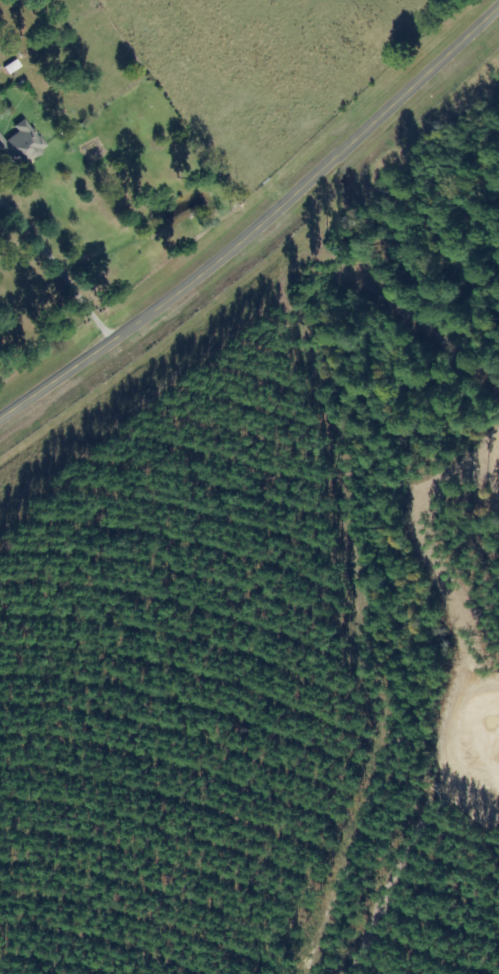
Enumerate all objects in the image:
building: (22, 145)
road: (258, 226)

